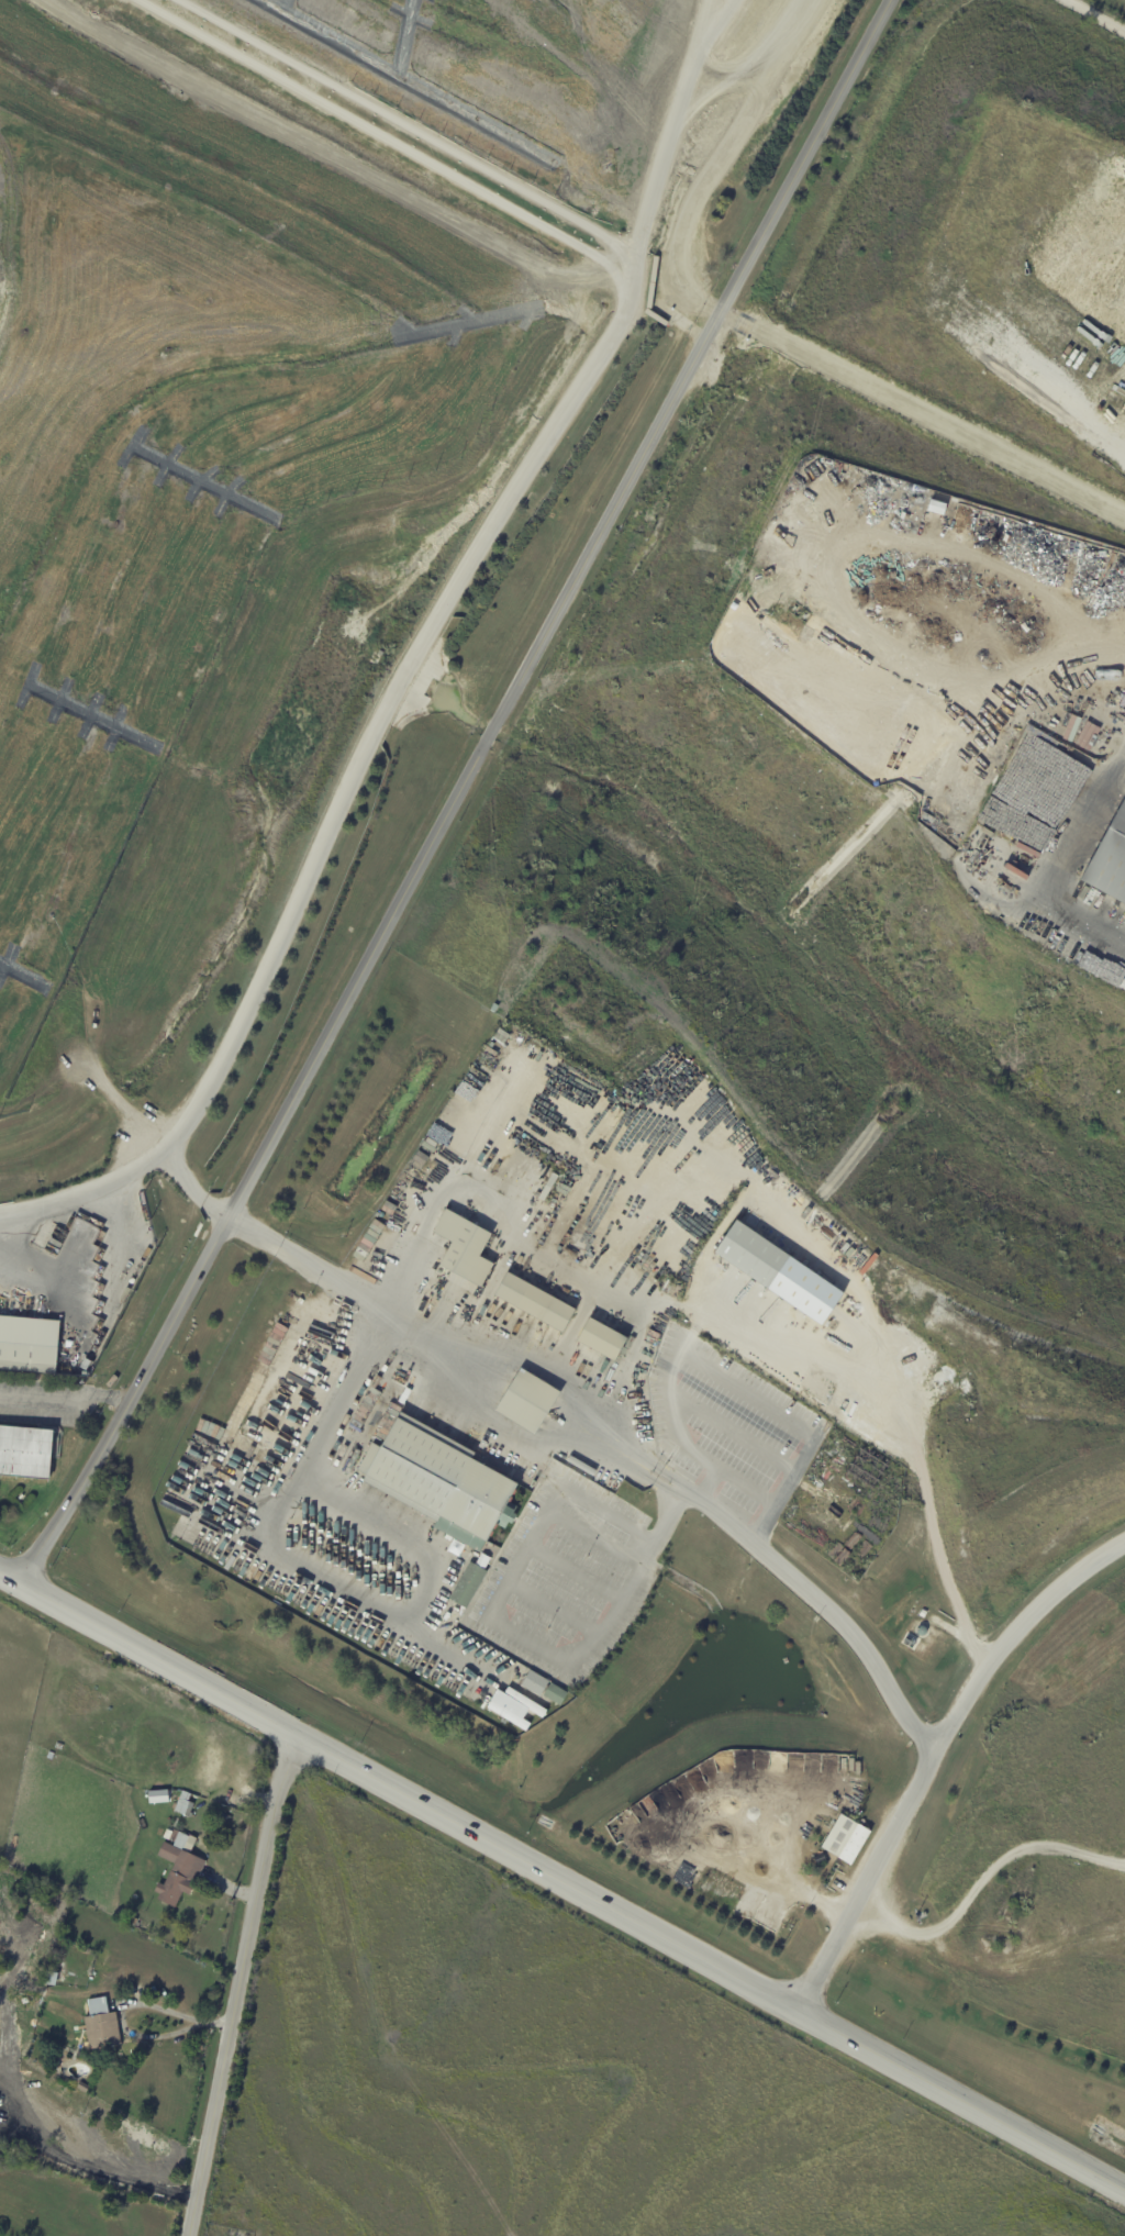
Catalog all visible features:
road: (1102, 13)
landfill: (265, 349)
road: (922, 402)
road: (523, 476)
road: (1033, 655)
road: (449, 792)
building: (1110, 860)
road: (122, 1171)
building: (413, 1194)
building: (700, 1238)
building: (466, 1246)
building: (755, 1254)
road: (530, 1255)
building: (536, 1301)
building: (604, 1339)
building: (29, 1344)
building: (88, 1364)
road: (727, 1389)
road: (63, 1397)
building: (530, 1402)
building: (274, 1406)
building: (25, 1453)
building: (442, 1481)
road: (720, 1515)
road: (413, 1532)
road: (286, 1555)
road: (576, 1571)
building: (468, 1584)
road: (550, 1609)
building: (923, 1614)
building: (454, 1617)
road: (523, 1637)
road: (1012, 1640)
building: (535, 1683)
building: (556, 1694)
building: (516, 1706)
building: (252, 1750)
building: (158, 1795)
building: (185, 1803)
building: (847, 1840)
building: (180, 1866)
road: (564, 1880)
building: (51, 1978)
road: (233, 1980)
road: (123, 2004)
road: (370, 2016)
building: (101, 2024)
building: (82, 2087)

